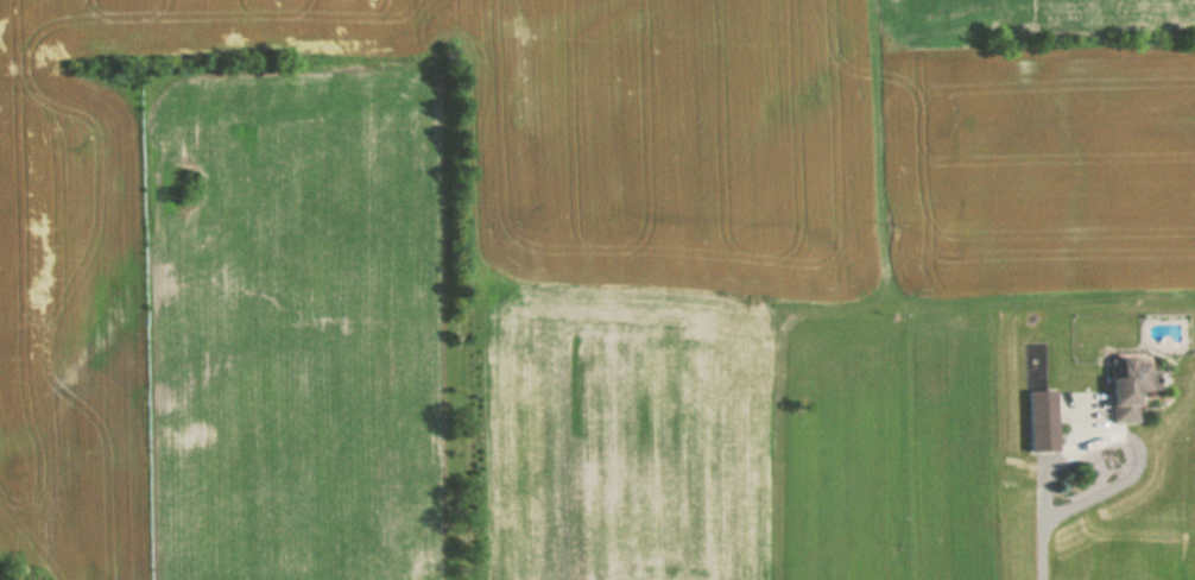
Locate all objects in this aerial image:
crop: (74, 327)
building: (1089, 402)
road: (1124, 435)
road: (1039, 548)

